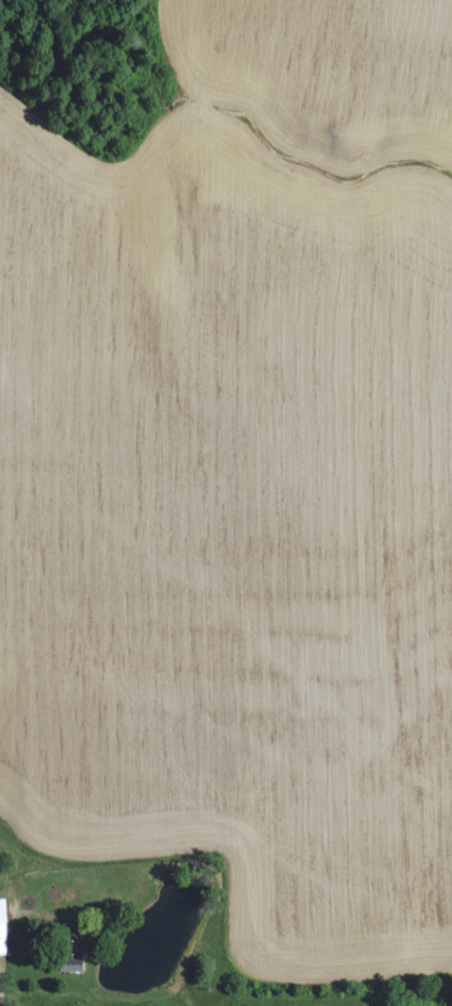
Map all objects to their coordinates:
building: (3, 928)

